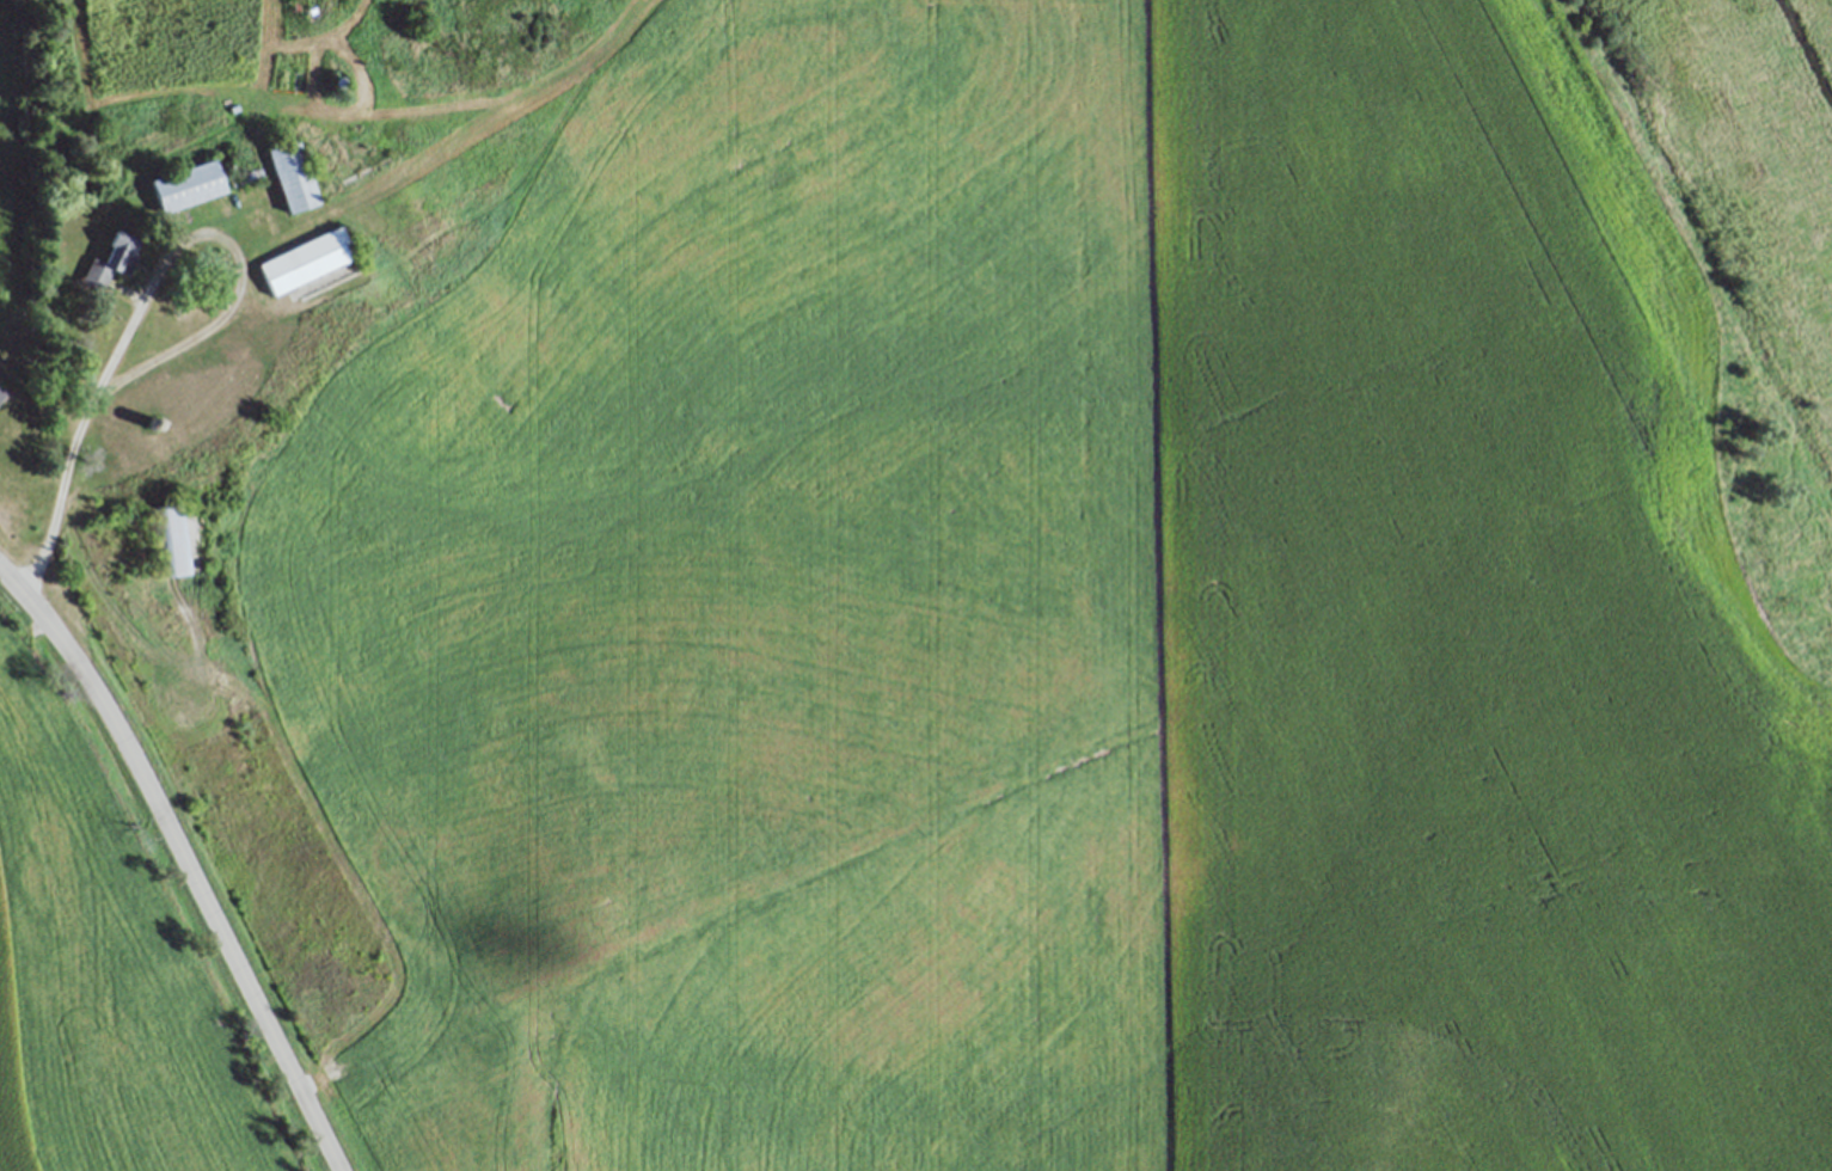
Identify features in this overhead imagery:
crop: (14, 163)
building: (286, 171)
building: (244, 176)
building: (245, 180)
building: (182, 183)
building: (106, 258)
building: (301, 258)
road: (154, 290)
building: (1, 393)
building: (1, 398)
building: (183, 405)
building: (164, 539)
crop: (1077, 623)
road: (185, 860)
crop: (104, 971)

